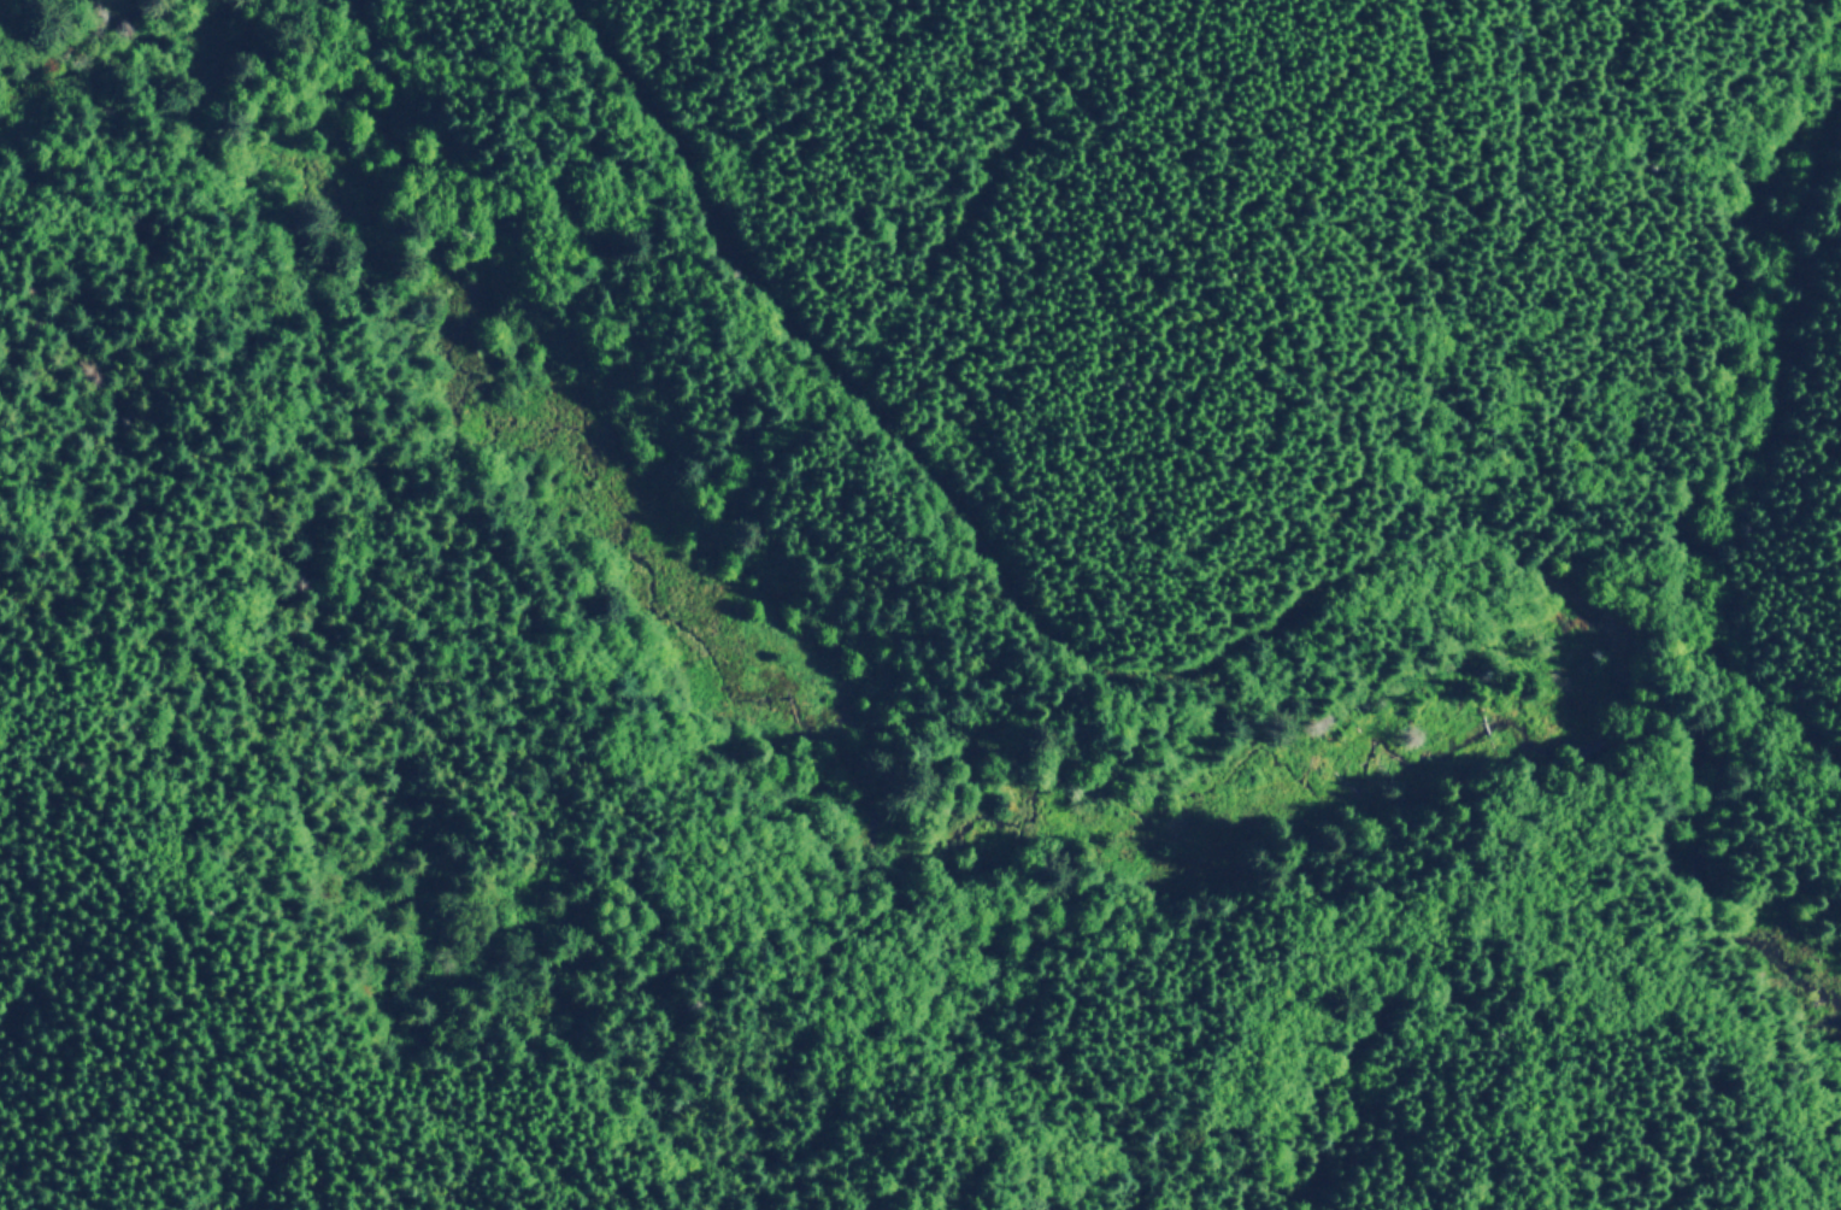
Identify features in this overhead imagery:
road: (1112, 598)

